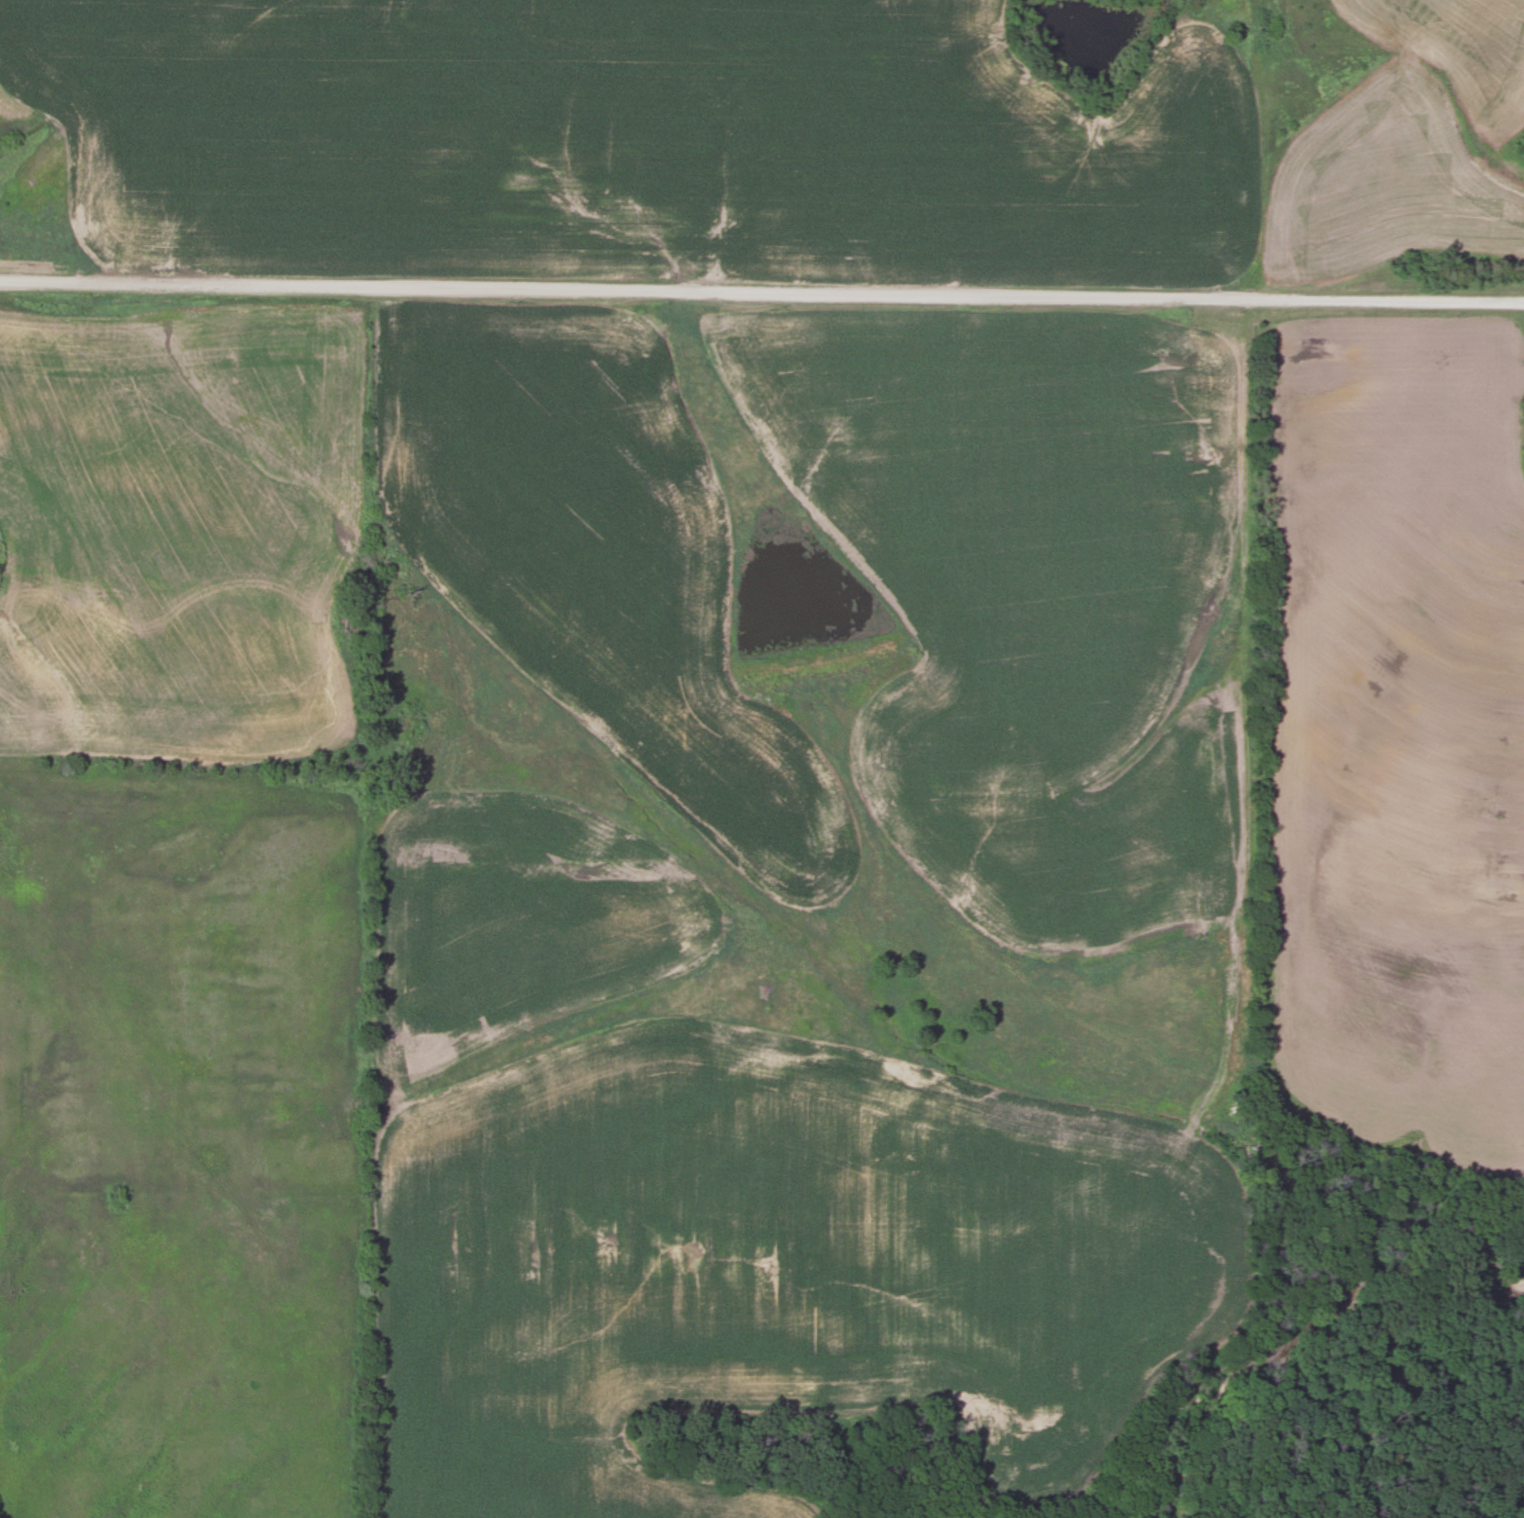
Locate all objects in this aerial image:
road: (761, 293)

